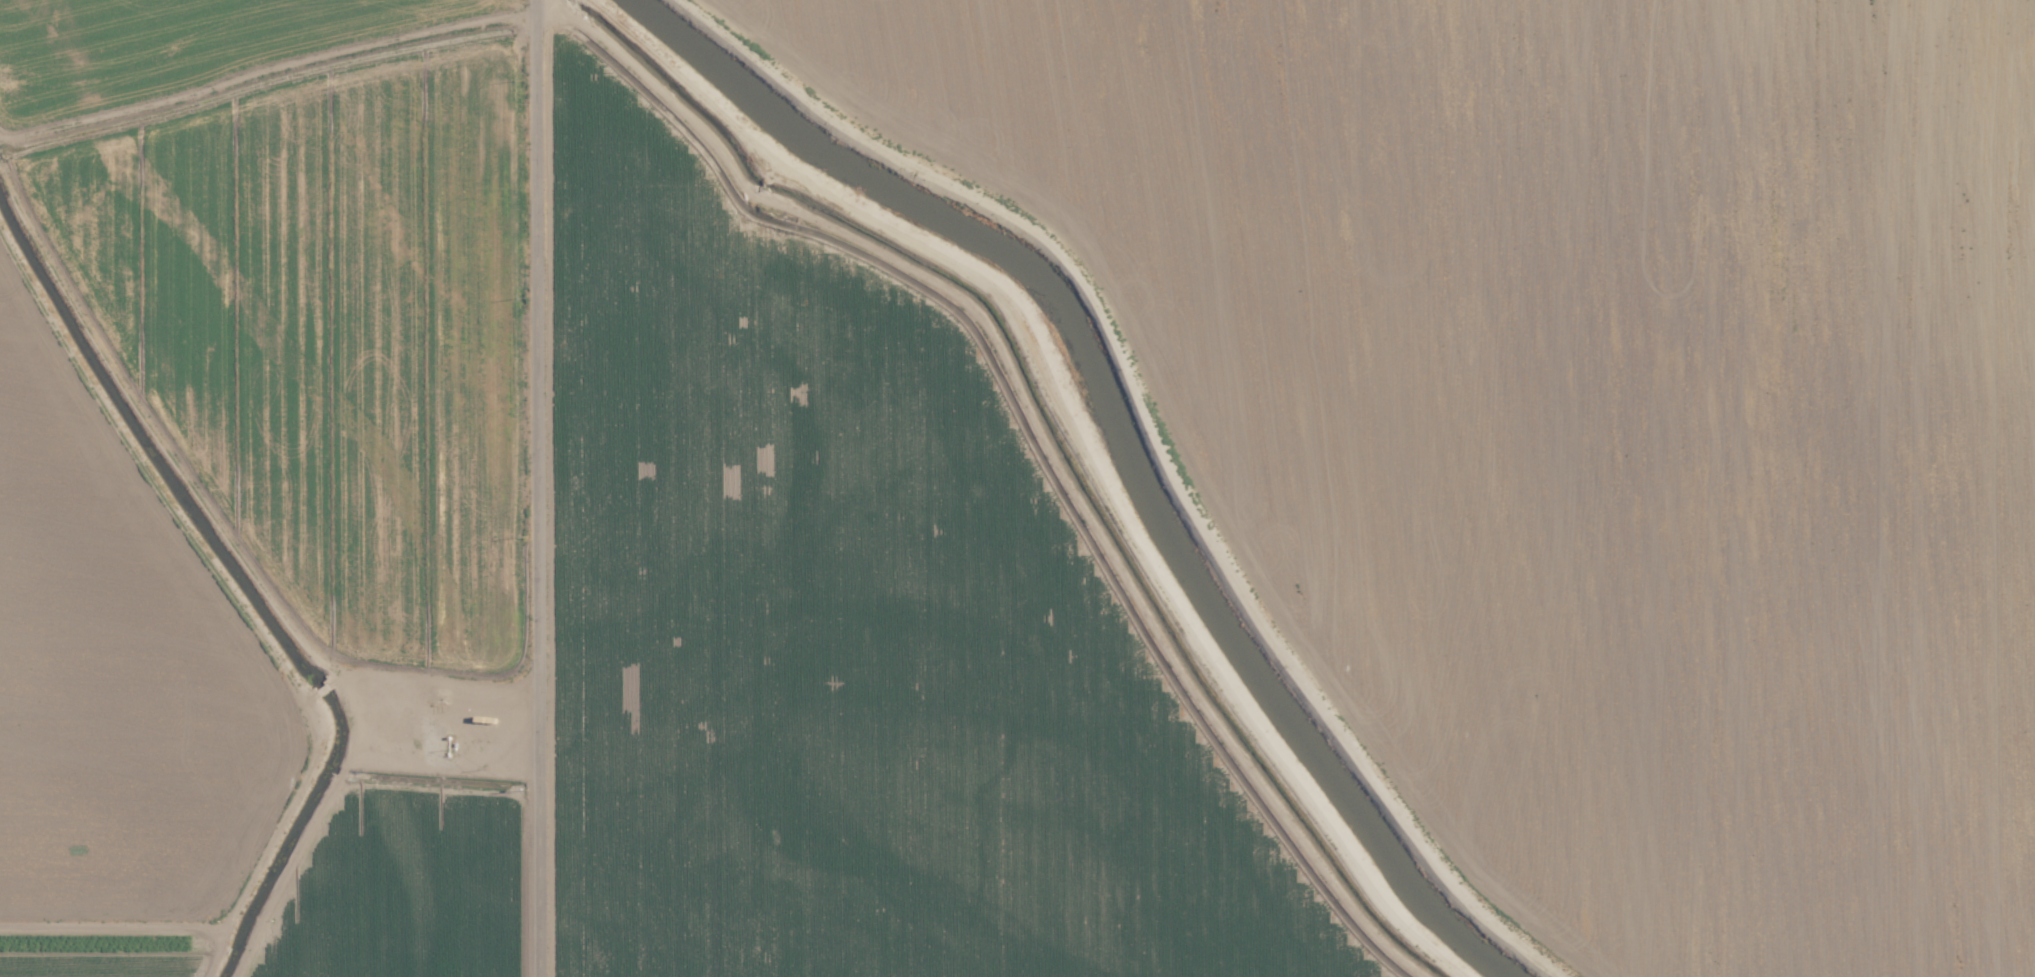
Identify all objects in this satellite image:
road: (541, 488)

